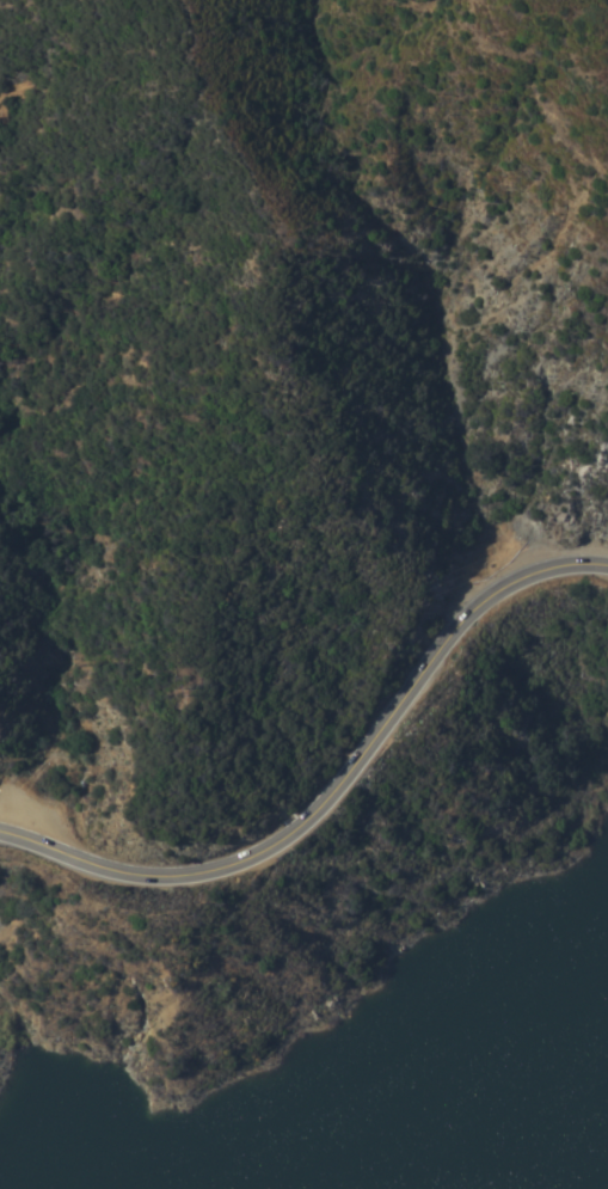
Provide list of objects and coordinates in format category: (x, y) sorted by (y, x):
road: (336, 787)

